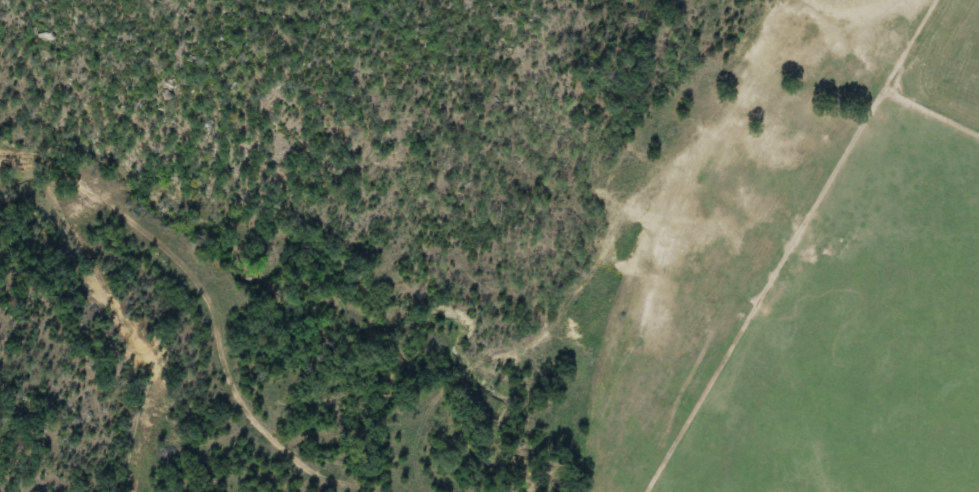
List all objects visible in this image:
crop: (799, 268)

